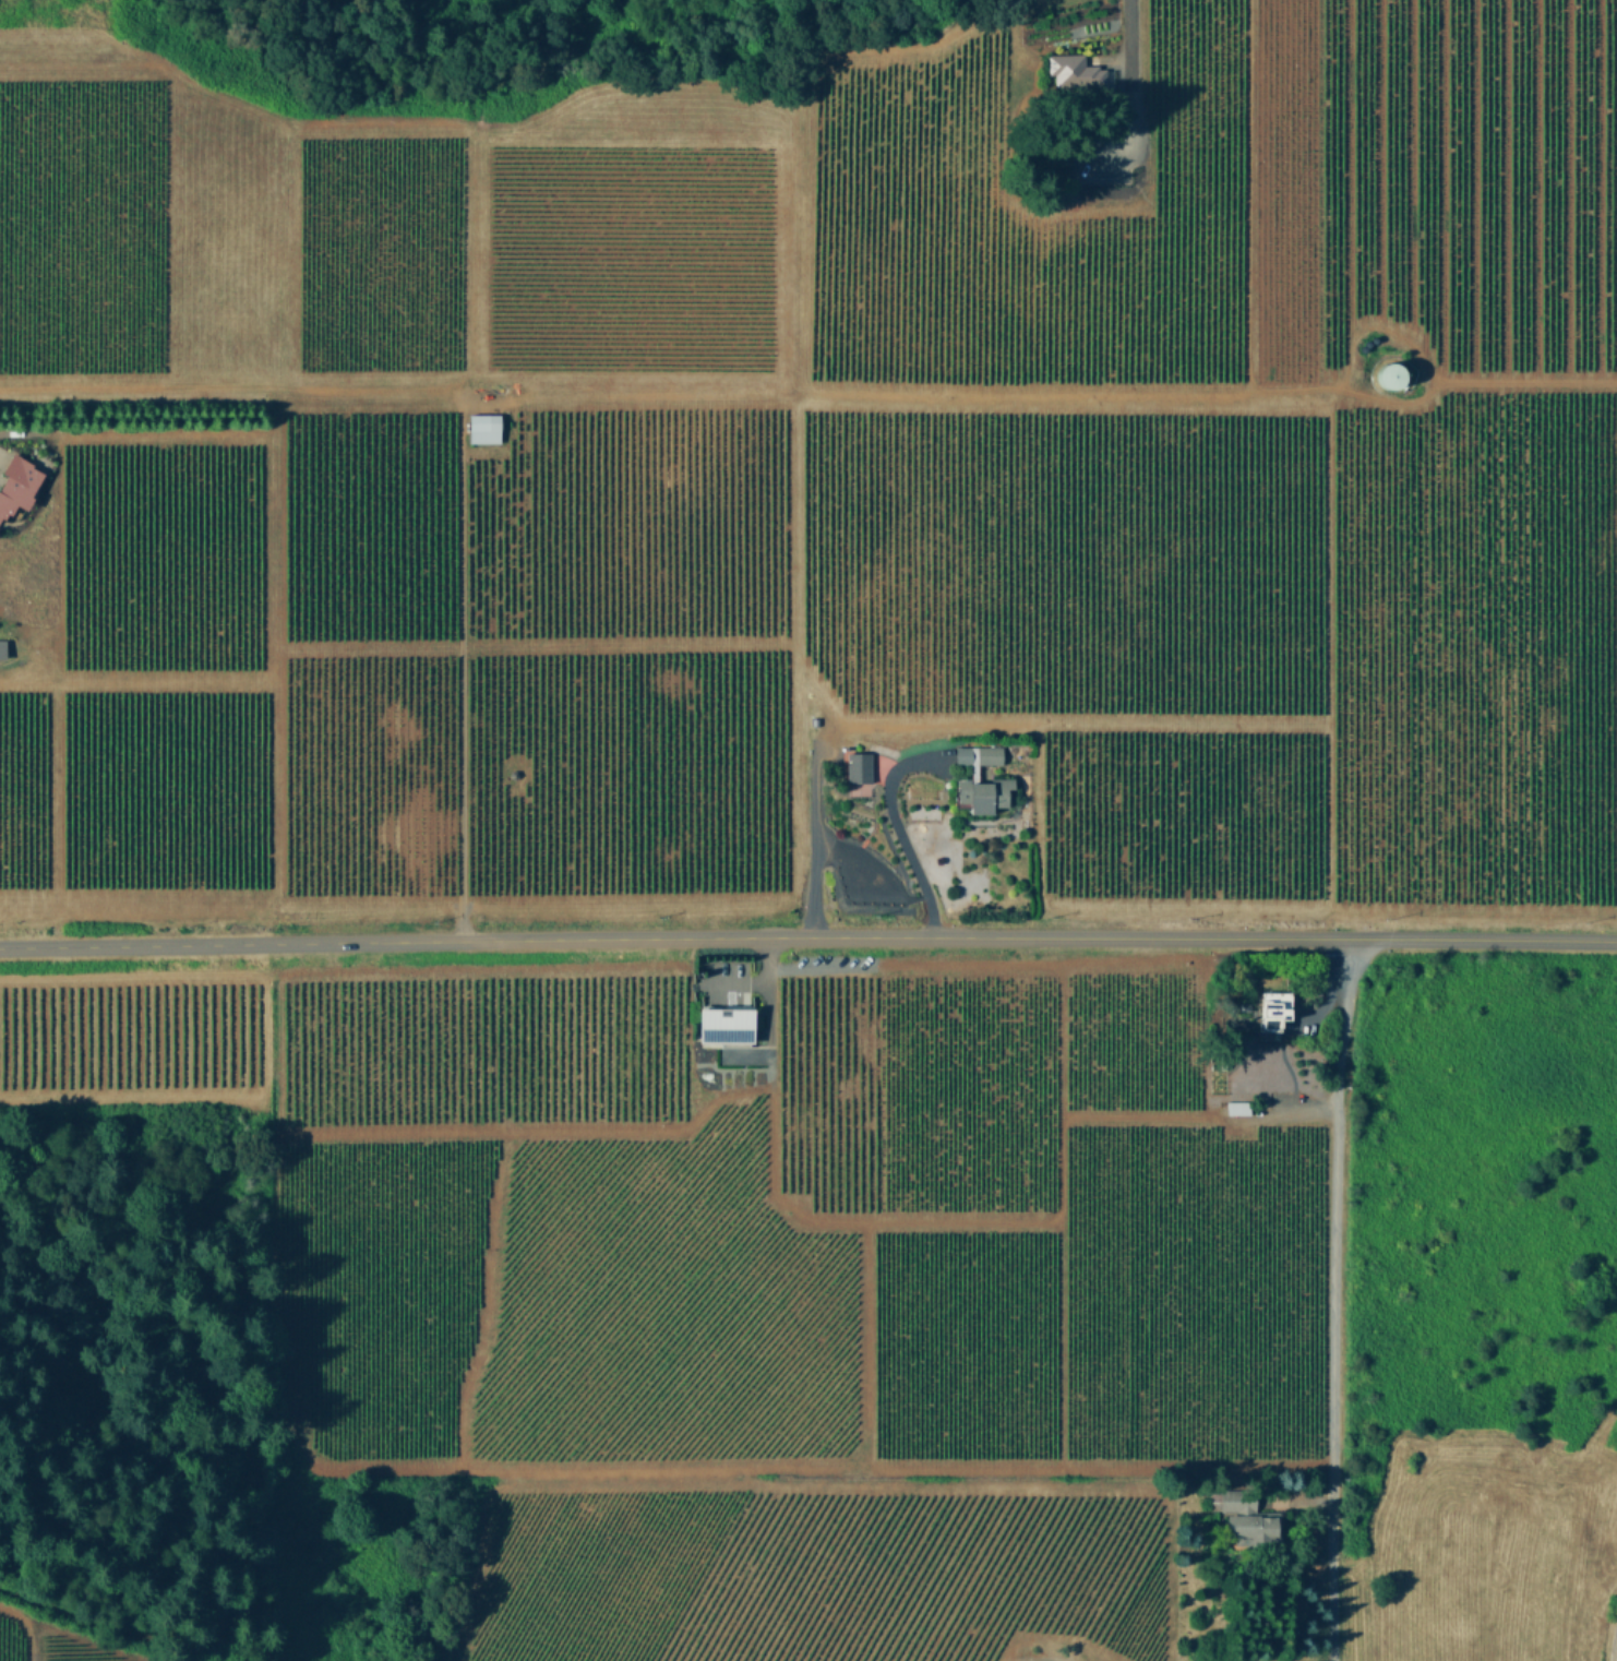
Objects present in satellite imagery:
road: (1130, 56)
building: (1071, 70)
building: (1388, 373)
building: (483, 427)
building: (16, 481)
building: (2, 647)
road: (460, 683)
building: (859, 766)
building: (983, 793)
road: (895, 836)
road: (814, 853)
road: (807, 936)
road: (754, 983)
building: (1272, 1008)
building: (723, 1024)
building: (1237, 1107)
road: (1335, 1298)
building: (1244, 1515)
road: (1614, 1646)

